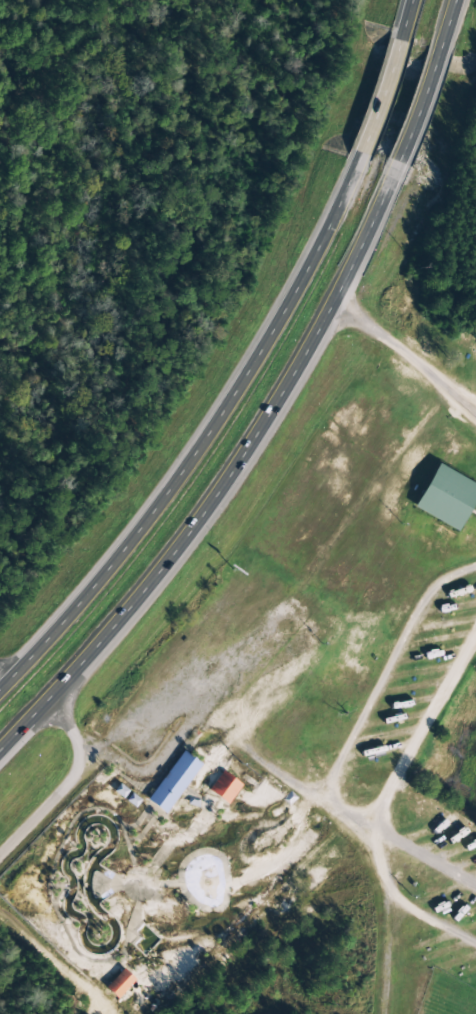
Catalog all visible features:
road: (406, 18)
road: (444, 25)
road: (380, 99)
road: (416, 113)
road: (399, 383)
road: (201, 440)
road: (228, 484)
building: (445, 498)
road: (2, 680)
road: (359, 778)
building: (172, 782)
road: (67, 785)
building: (223, 788)
road: (371, 953)
building: (119, 984)
road: (423, 995)

